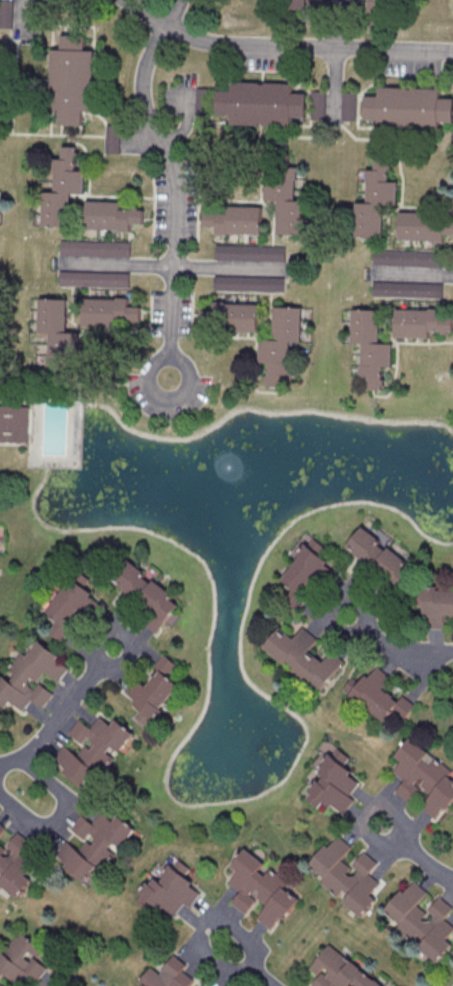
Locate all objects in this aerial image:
road: (312, 4)
building: (324, 4)
building: (353, 5)
building: (292, 10)
building: (381, 10)
road: (176, 14)
road: (25, 17)
road: (273, 20)
road: (337, 24)
road: (400, 25)
road: (23, 39)
road: (282, 46)
parking lot: (263, 58)
building: (72, 79)
road: (335, 85)
road: (15, 86)
parking lot: (180, 95)
building: (203, 101)
building: (262, 104)
building: (318, 106)
parking lot: (334, 106)
building: (350, 107)
building: (409, 109)
road: (186, 125)
road: (53, 133)
road: (286, 136)
building: (114, 138)
road: (69, 140)
road: (89, 161)
road: (401, 165)
building: (62, 192)
road: (104, 195)
building: (286, 199)
building: (376, 200)
road: (154, 202)
parking lot: (175, 202)
road: (198, 202)
building: (112, 218)
building: (237, 223)
building: (424, 226)
building: (97, 248)
road: (175, 252)
building: (251, 252)
building: (410, 257)
road: (167, 265)
parking lot: (409, 273)
road: (412, 274)
building: (95, 278)
building: (250, 283)
building: (409, 289)
building: (110, 311)
road: (151, 312)
parking lot: (171, 312)
road: (192, 313)
building: (233, 316)
building: (422, 322)
road: (91, 331)
building: (59, 335)
road: (255, 342)
building: (282, 342)
building: (372, 346)
road: (144, 382)
road: (63, 383)
road: (134, 383)
parking lot: (145, 398)
building: (14, 425)
road: (14, 443)
building: (382, 560)
building: (305, 576)
building: (146, 593)
building: (74, 604)
building: (438, 607)
road: (395, 650)
building: (304, 657)
building: (32, 677)
building: (153, 689)
building: (381, 698)
road: (62, 713)
building: (95, 749)
building: (423, 775)
building: (333, 785)
road: (58, 814)
building: (2, 827)
building: (94, 844)
road: (416, 856)
building: (15, 864)
building: (349, 875)
building: (261, 887)
building: (170, 889)
building: (422, 920)
building: (21, 960)
road: (252, 965)
building: (340, 970)
building: (170, 975)
road: (61, 978)
building: (1, 985)

